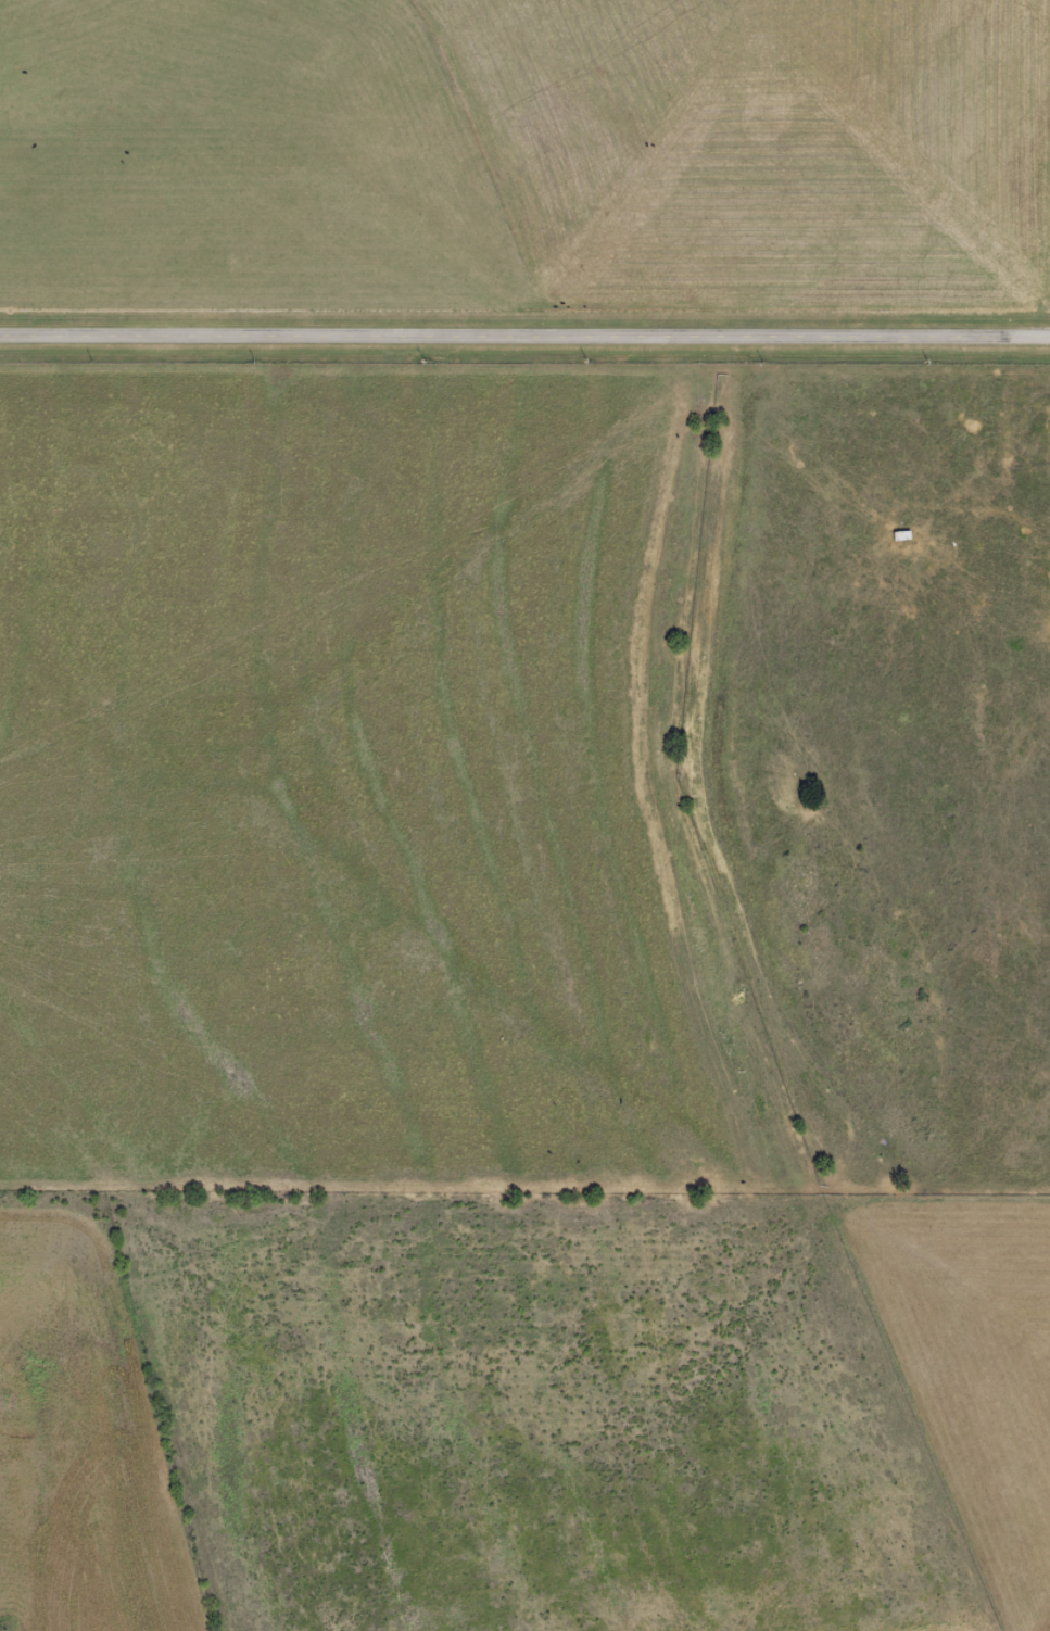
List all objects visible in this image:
road: (524, 336)

